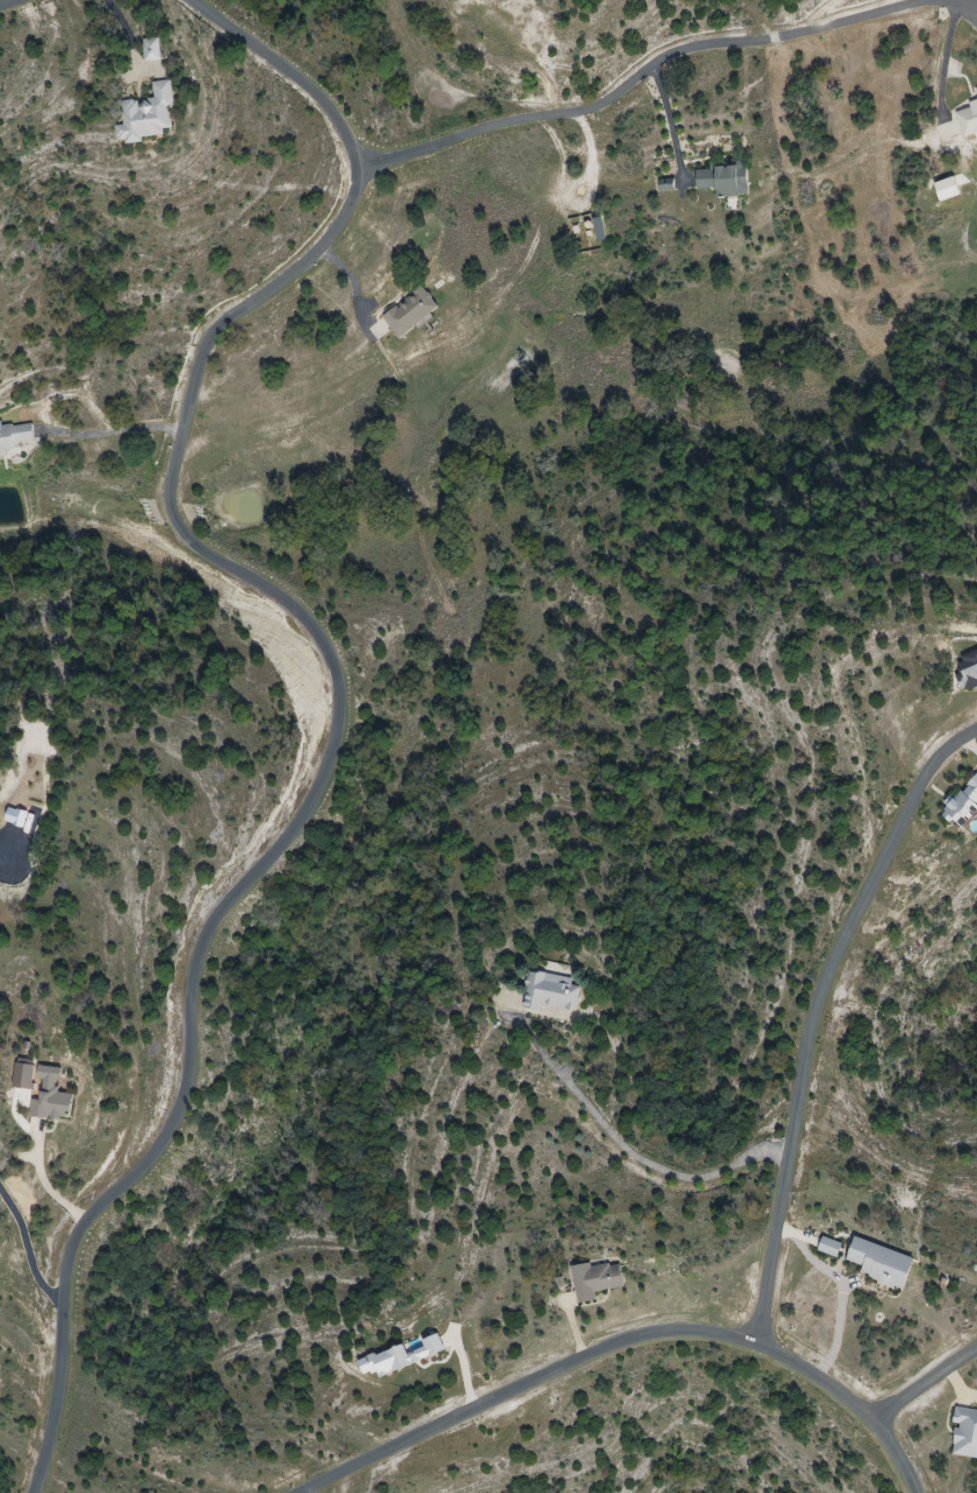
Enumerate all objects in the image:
road: (10, 4)
road: (130, 29)
road: (658, 59)
road: (668, 110)
building: (148, 116)
building: (965, 121)
building: (725, 180)
building: (667, 186)
road: (352, 281)
building: (411, 312)
road: (122, 430)
building: (14, 437)
road: (340, 680)
building: (963, 803)
building: (552, 992)
road: (814, 1013)
building: (51, 1096)
road: (628, 1150)
road: (48, 1190)
building: (830, 1247)
road: (27, 1249)
building: (881, 1263)
building: (596, 1280)
road: (843, 1286)
road: (625, 1337)
road: (924, 1385)
building: (965, 1434)

